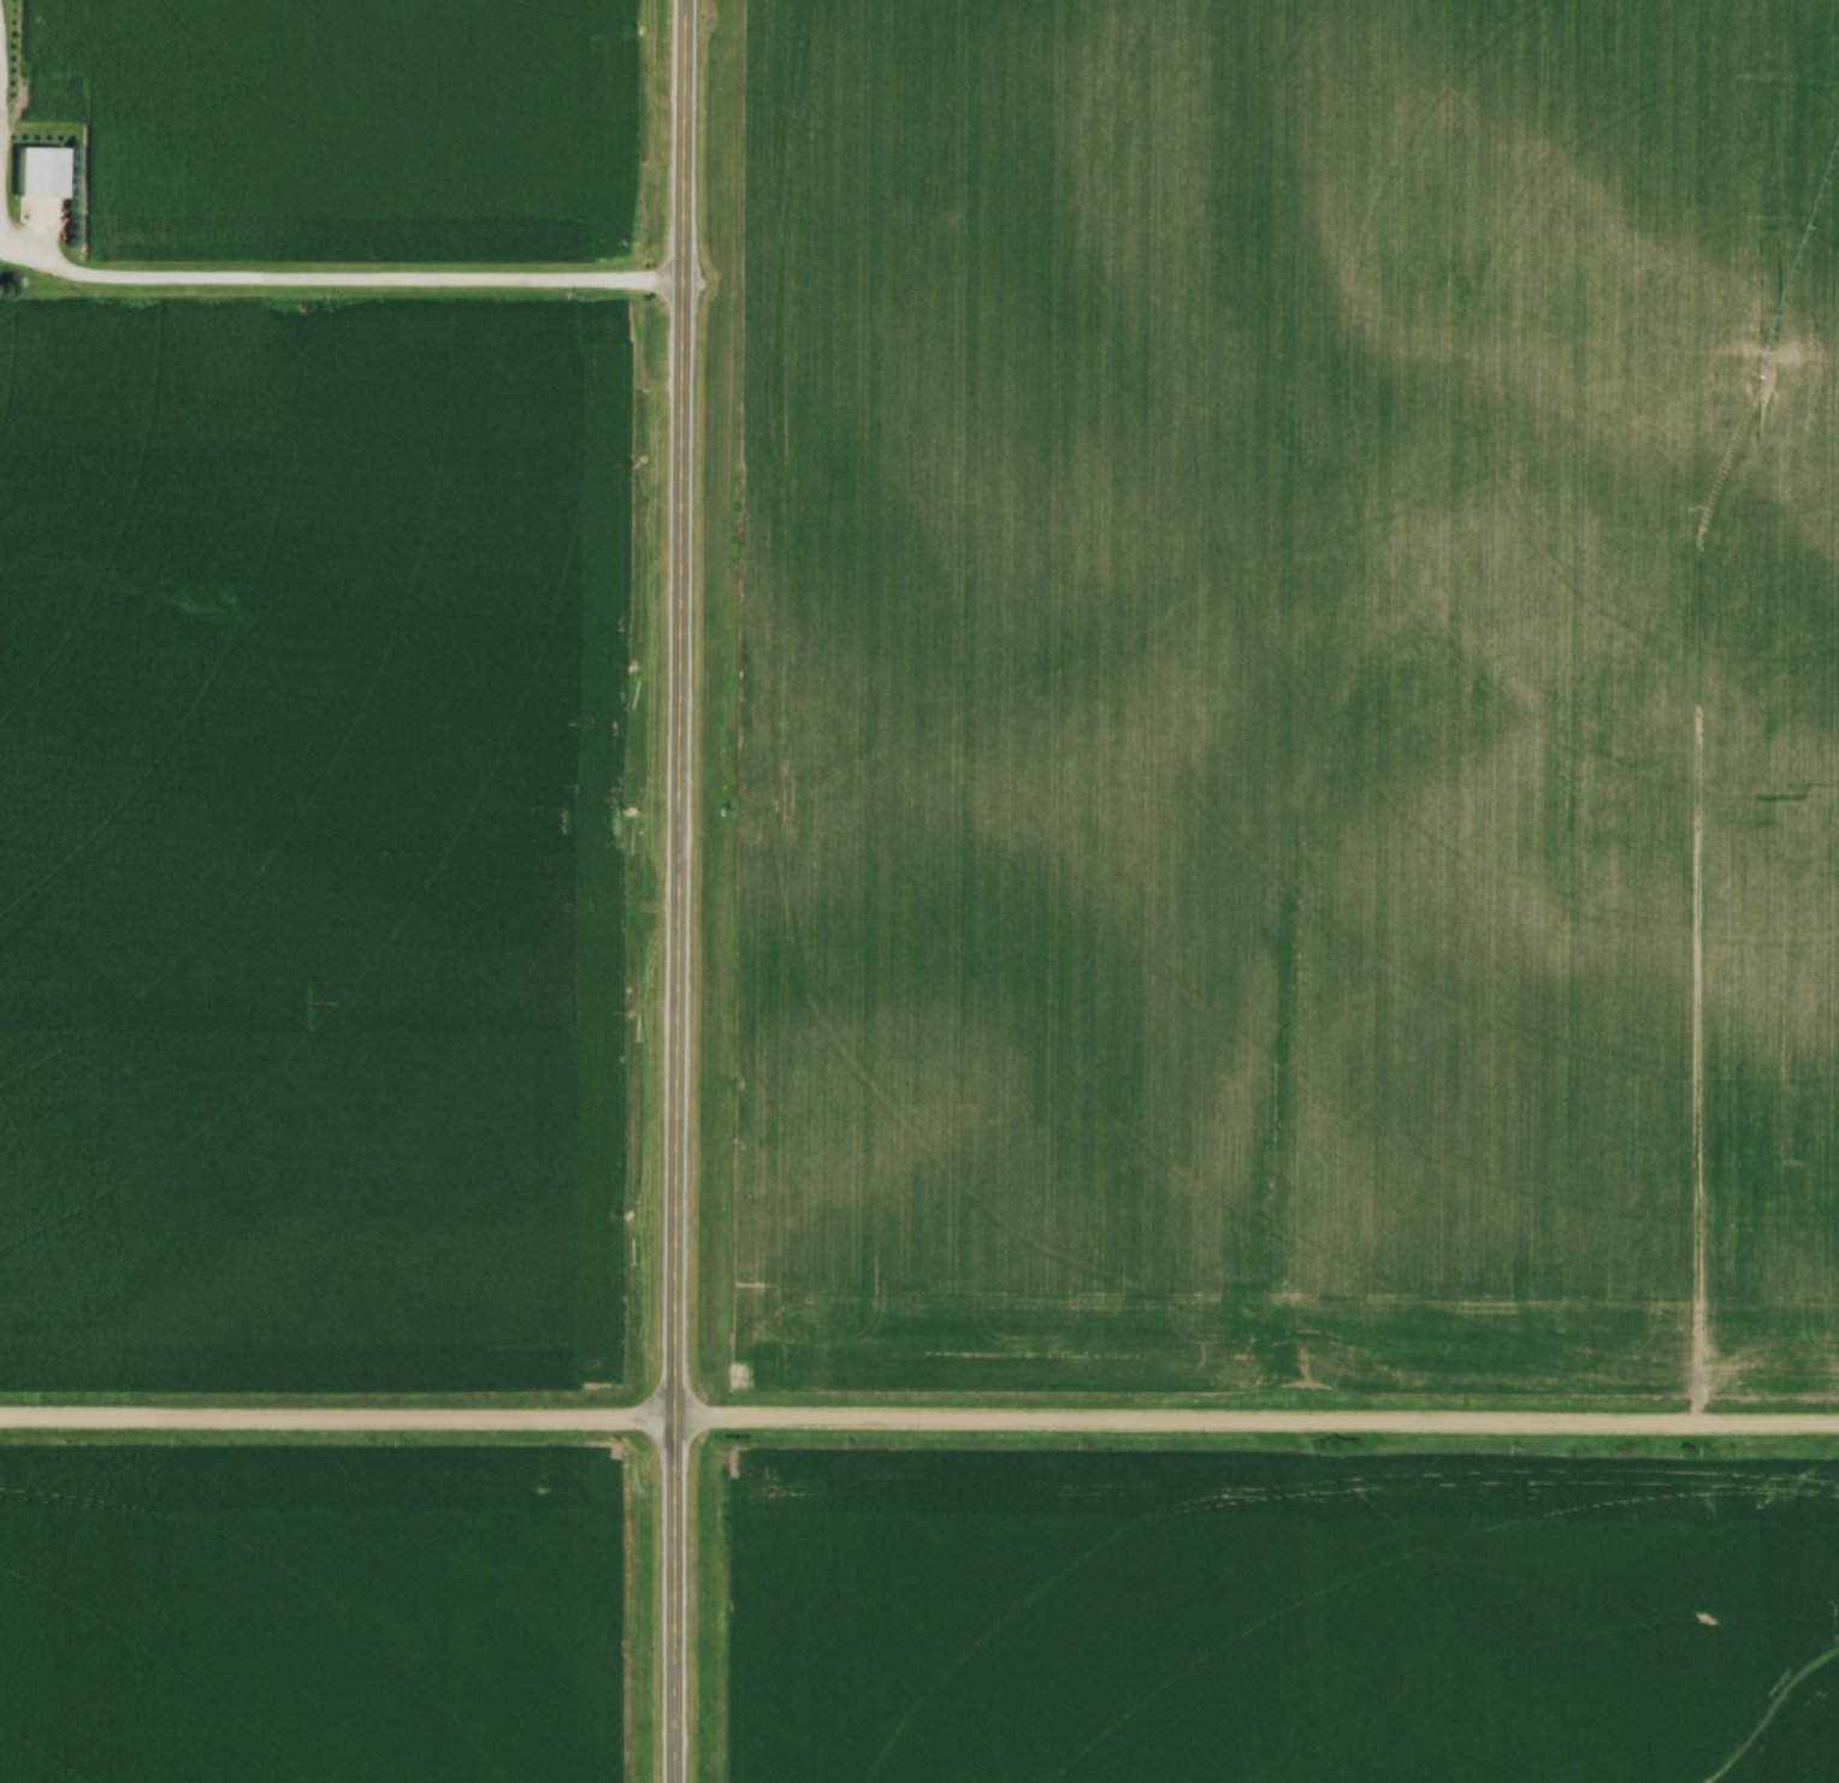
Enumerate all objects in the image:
building: (32, 172)
road: (0, 180)
road: (343, 279)
road: (681, 890)
road: (919, 1418)

